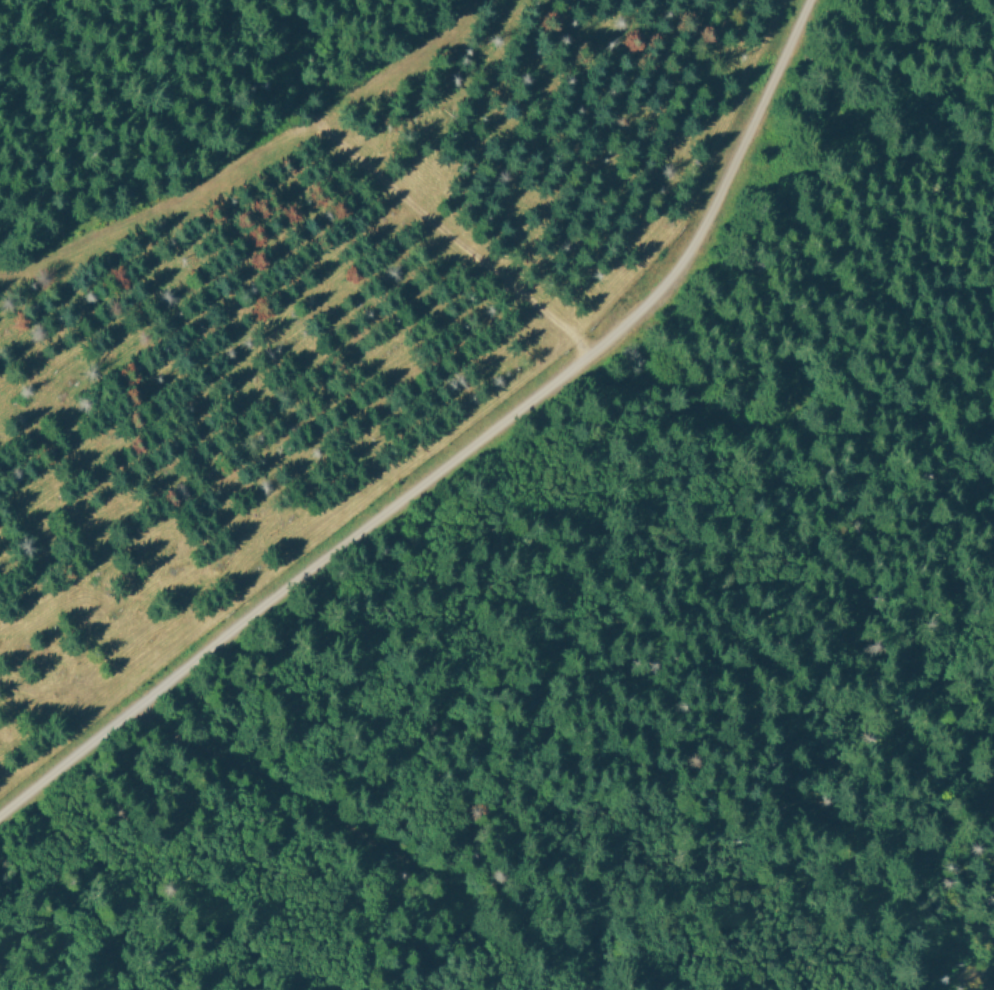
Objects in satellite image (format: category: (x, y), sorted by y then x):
road: (458, 450)
road: (612, 494)

